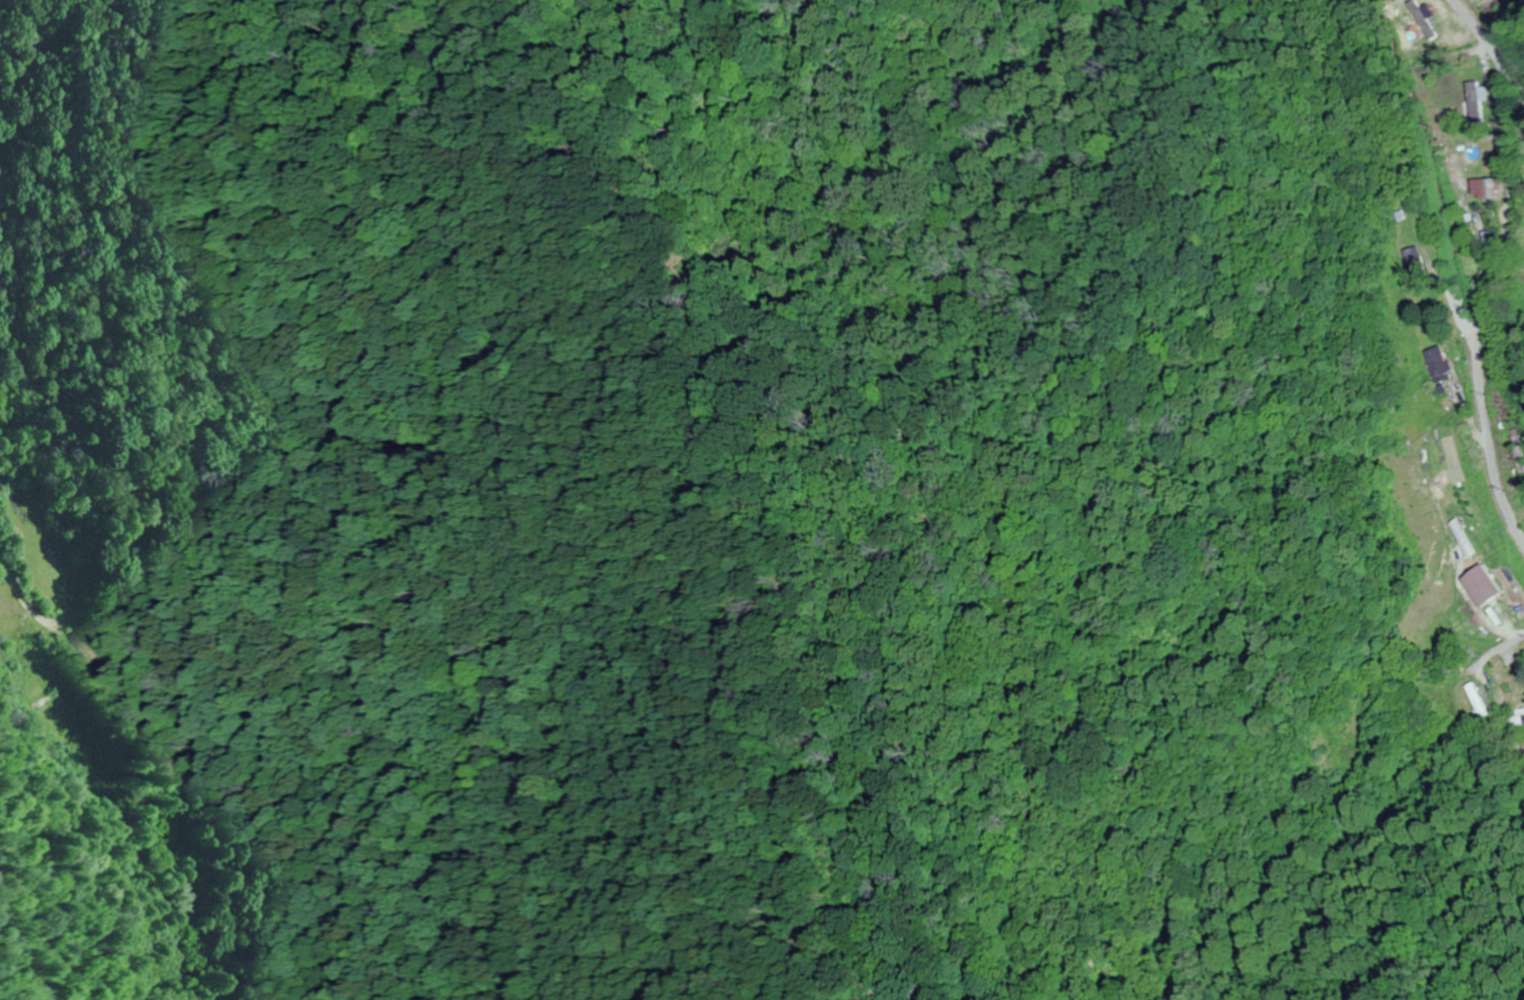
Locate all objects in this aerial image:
building: (1475, 103)
building: (1460, 170)
building: (1488, 188)
road: (1492, 274)
building: (1440, 364)
building: (1465, 535)
building: (1488, 586)
road: (28, 591)
building: (1482, 699)
building: (1440, 708)
building: (56, 719)

